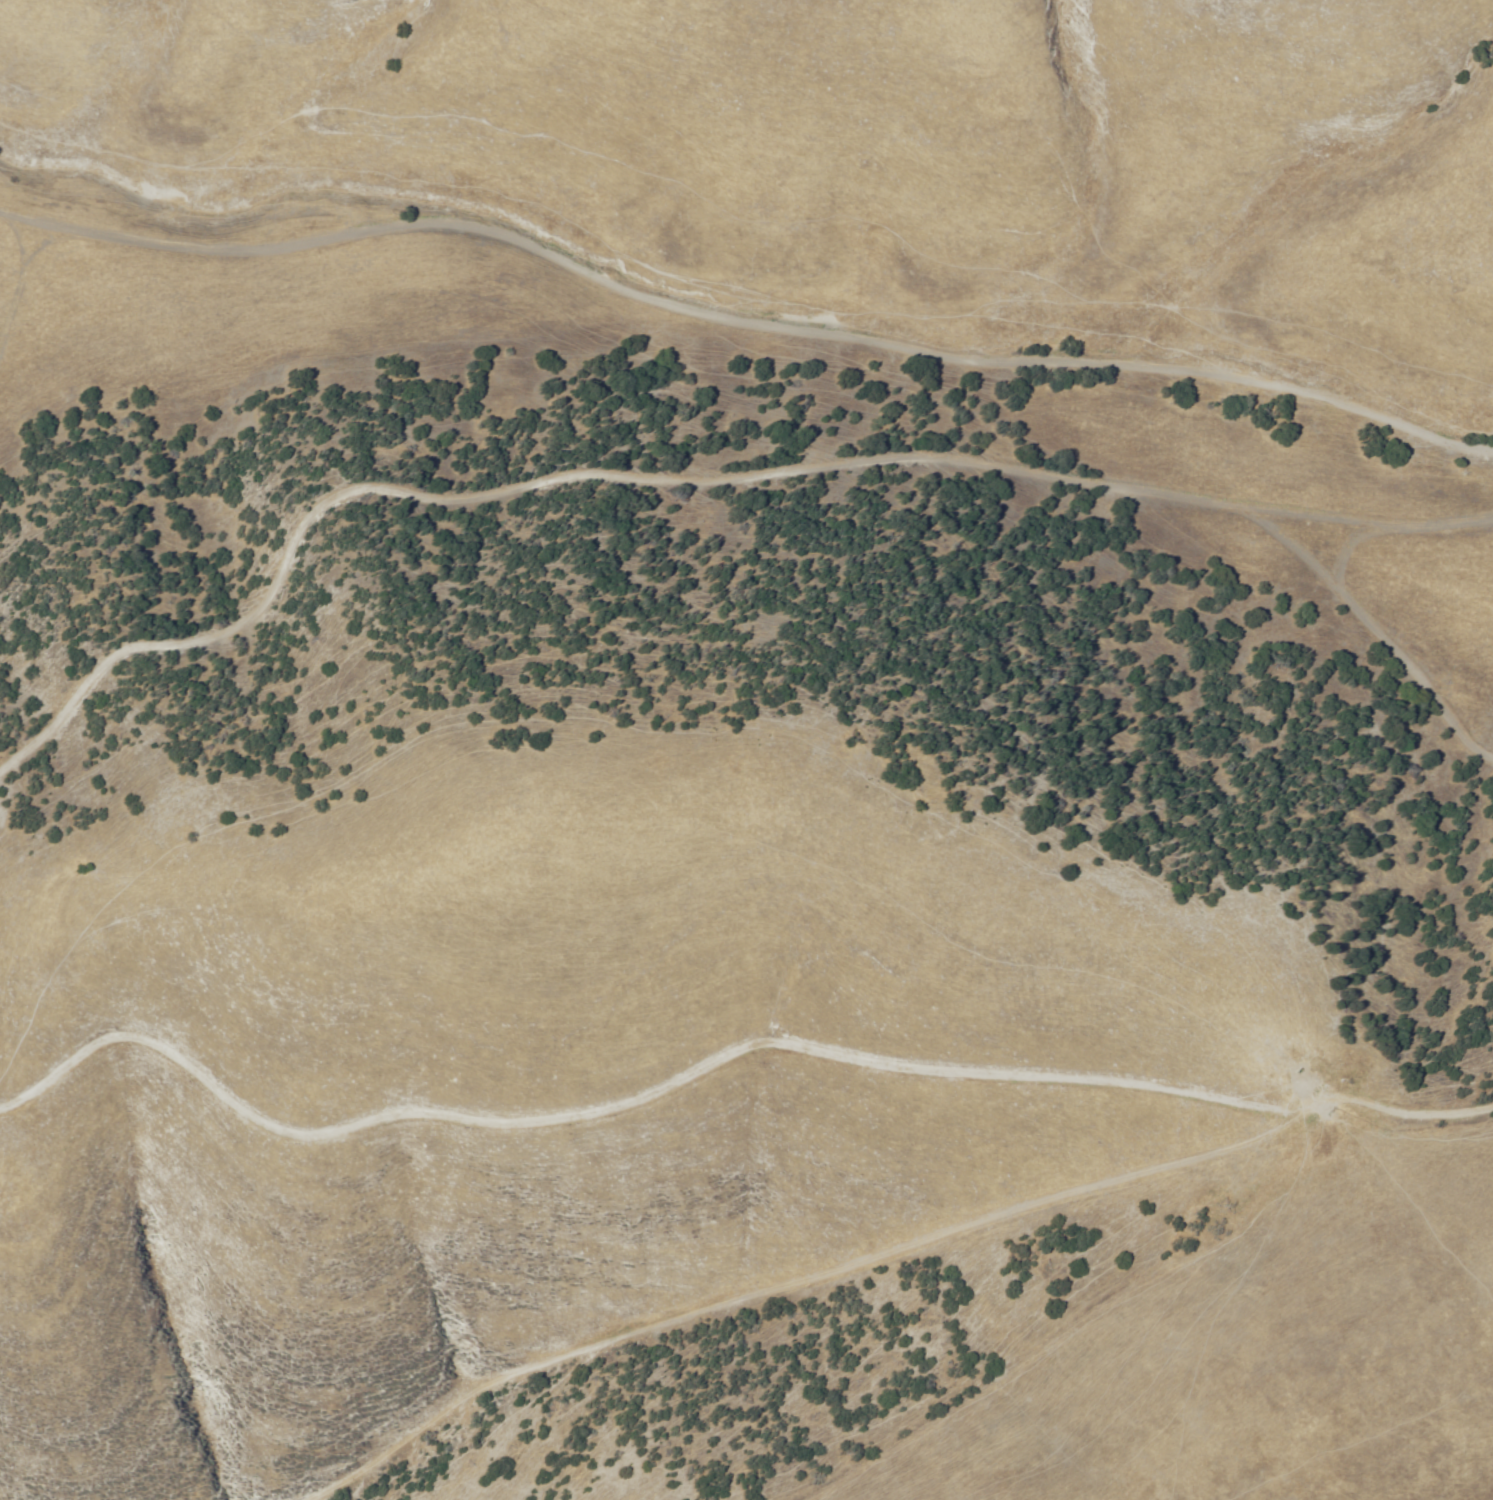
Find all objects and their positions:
road: (745, 373)
road: (615, 488)
road: (1418, 529)
road: (1394, 651)
road: (737, 1080)

